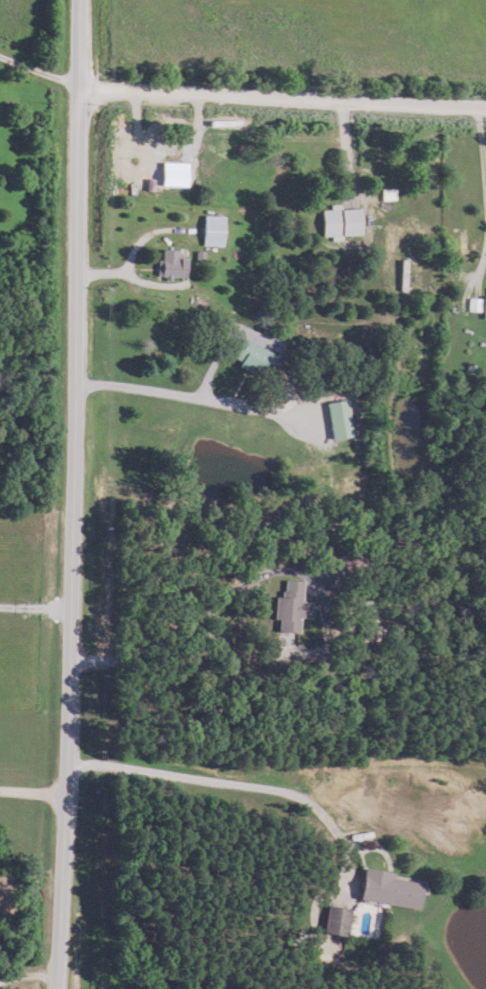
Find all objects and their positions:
road: (40, 75)
road: (282, 103)
building: (168, 148)
building: (148, 171)
building: (380, 200)
road: (483, 210)
building: (330, 218)
building: (211, 231)
building: (166, 263)
building: (470, 306)
building: (482, 308)
building: (250, 357)
road: (209, 401)
building: (339, 419)
road: (71, 494)
building: (343, 565)
building: (288, 608)
road: (203, 623)
building: (366, 629)
road: (248, 789)
building: (386, 889)
building: (333, 920)
road: (29, 978)

